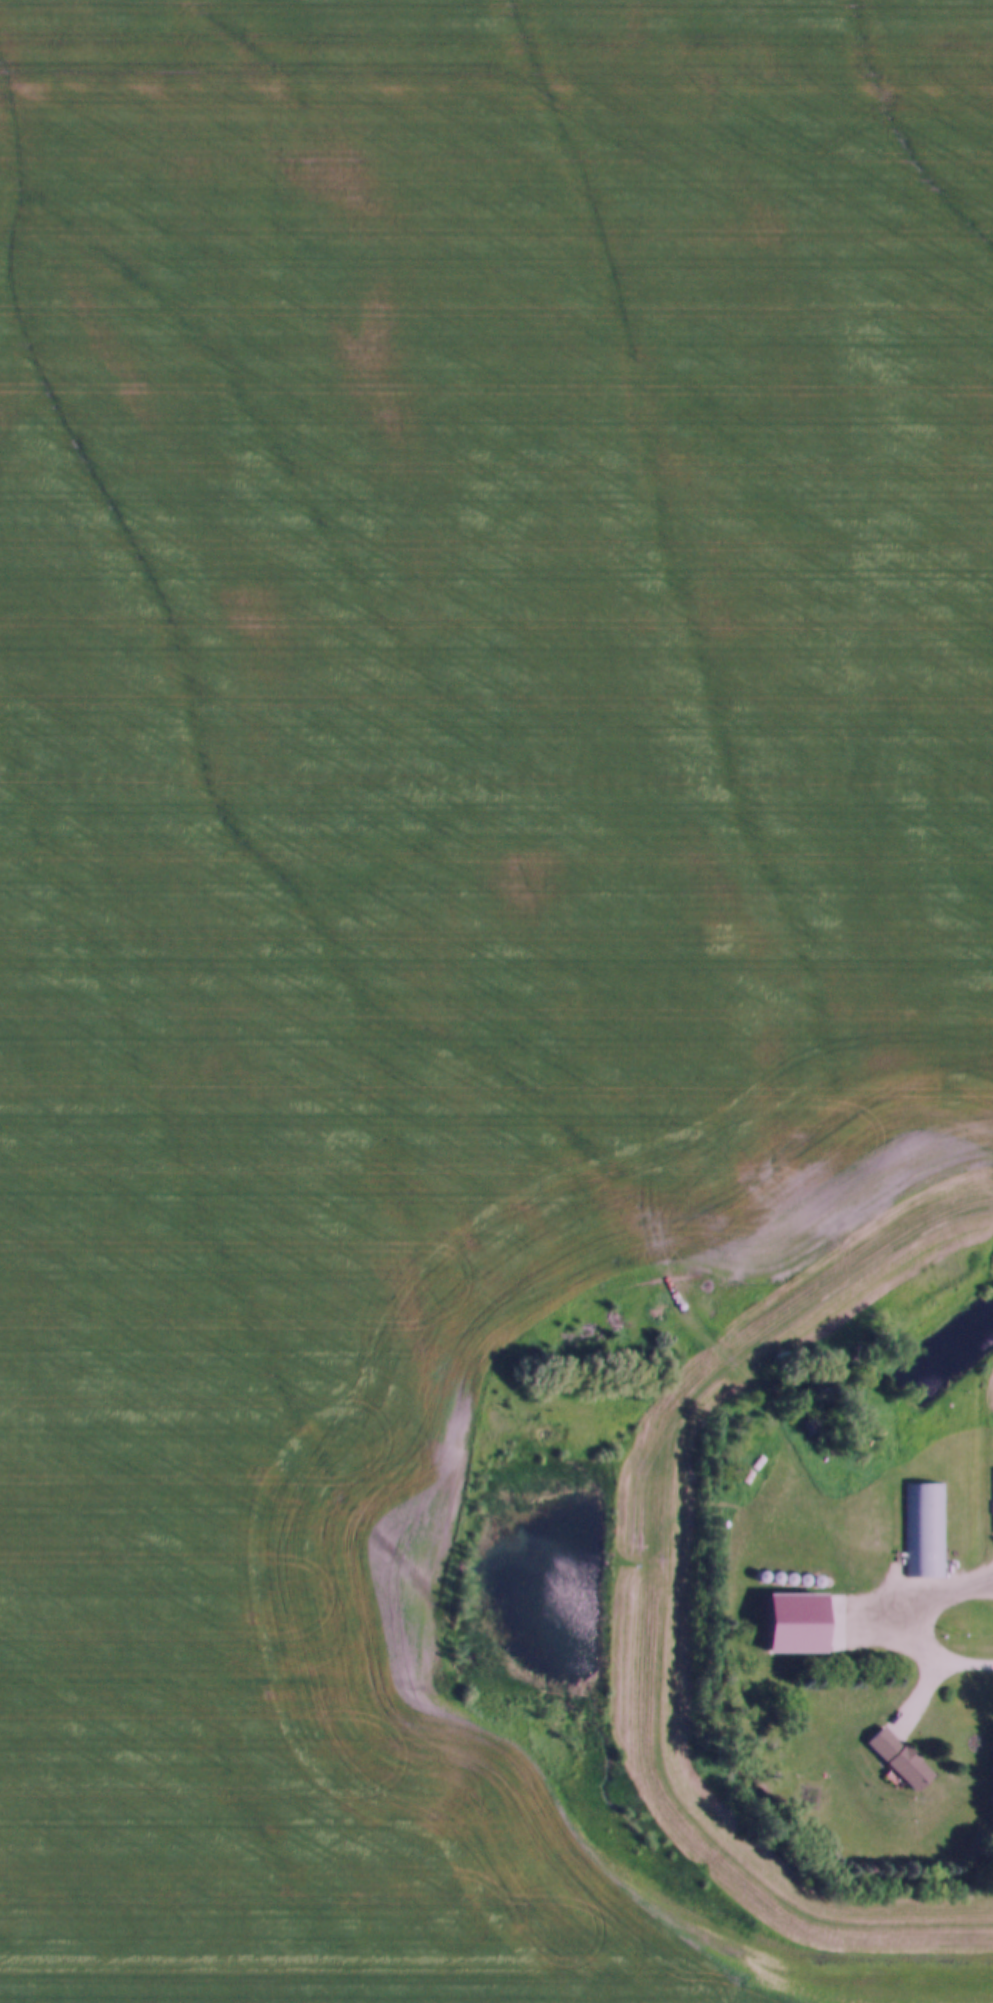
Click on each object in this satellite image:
building: (925, 1532)
building: (895, 1758)

